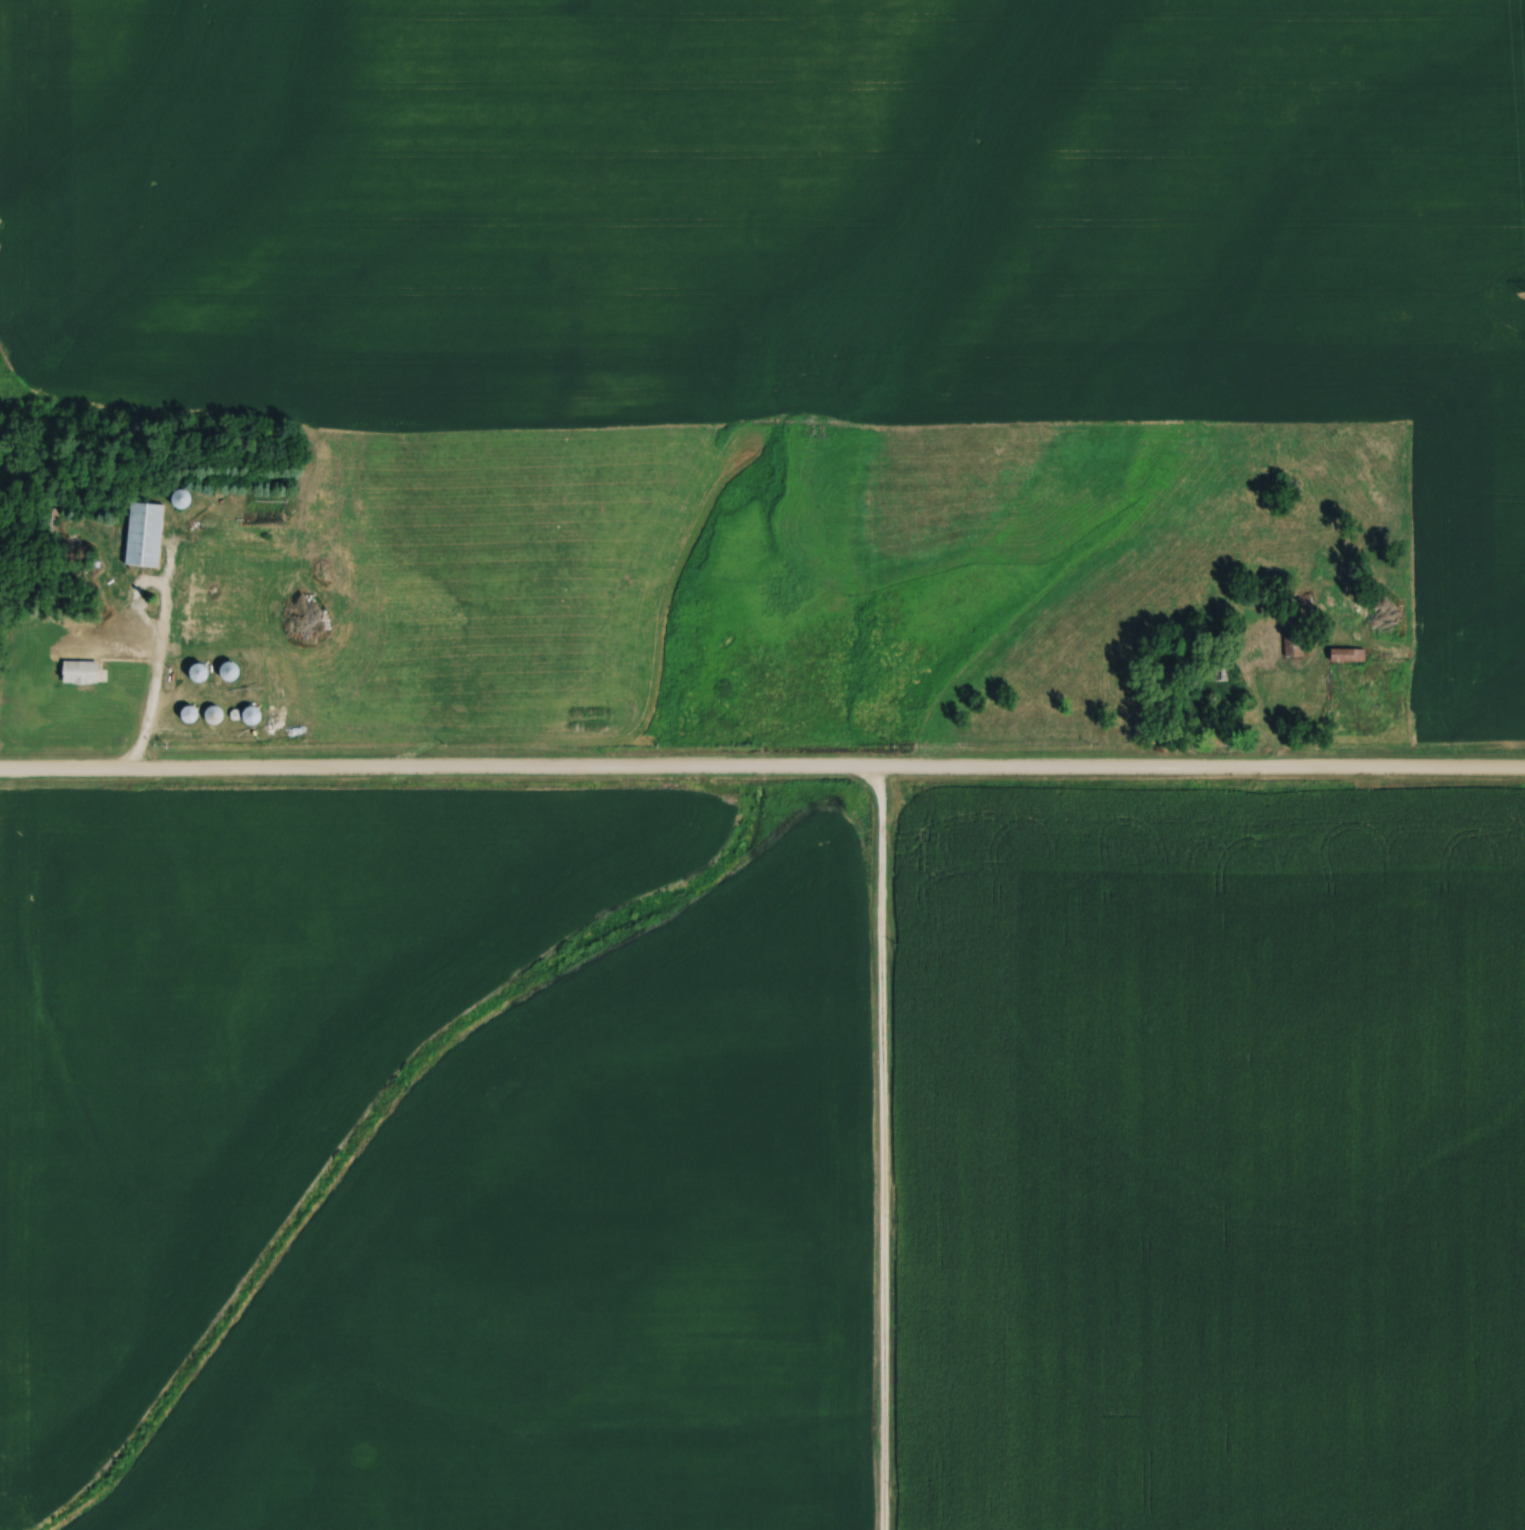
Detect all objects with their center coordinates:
building: (178, 498)
building: (144, 534)
road: (160, 596)
building: (182, 630)
building: (1347, 654)
building: (79, 671)
building: (227, 671)
building: (196, 672)
building: (1221, 673)
building: (276, 696)
road: (146, 708)
building: (212, 715)
building: (248, 715)
road: (762, 770)
road: (879, 1152)

